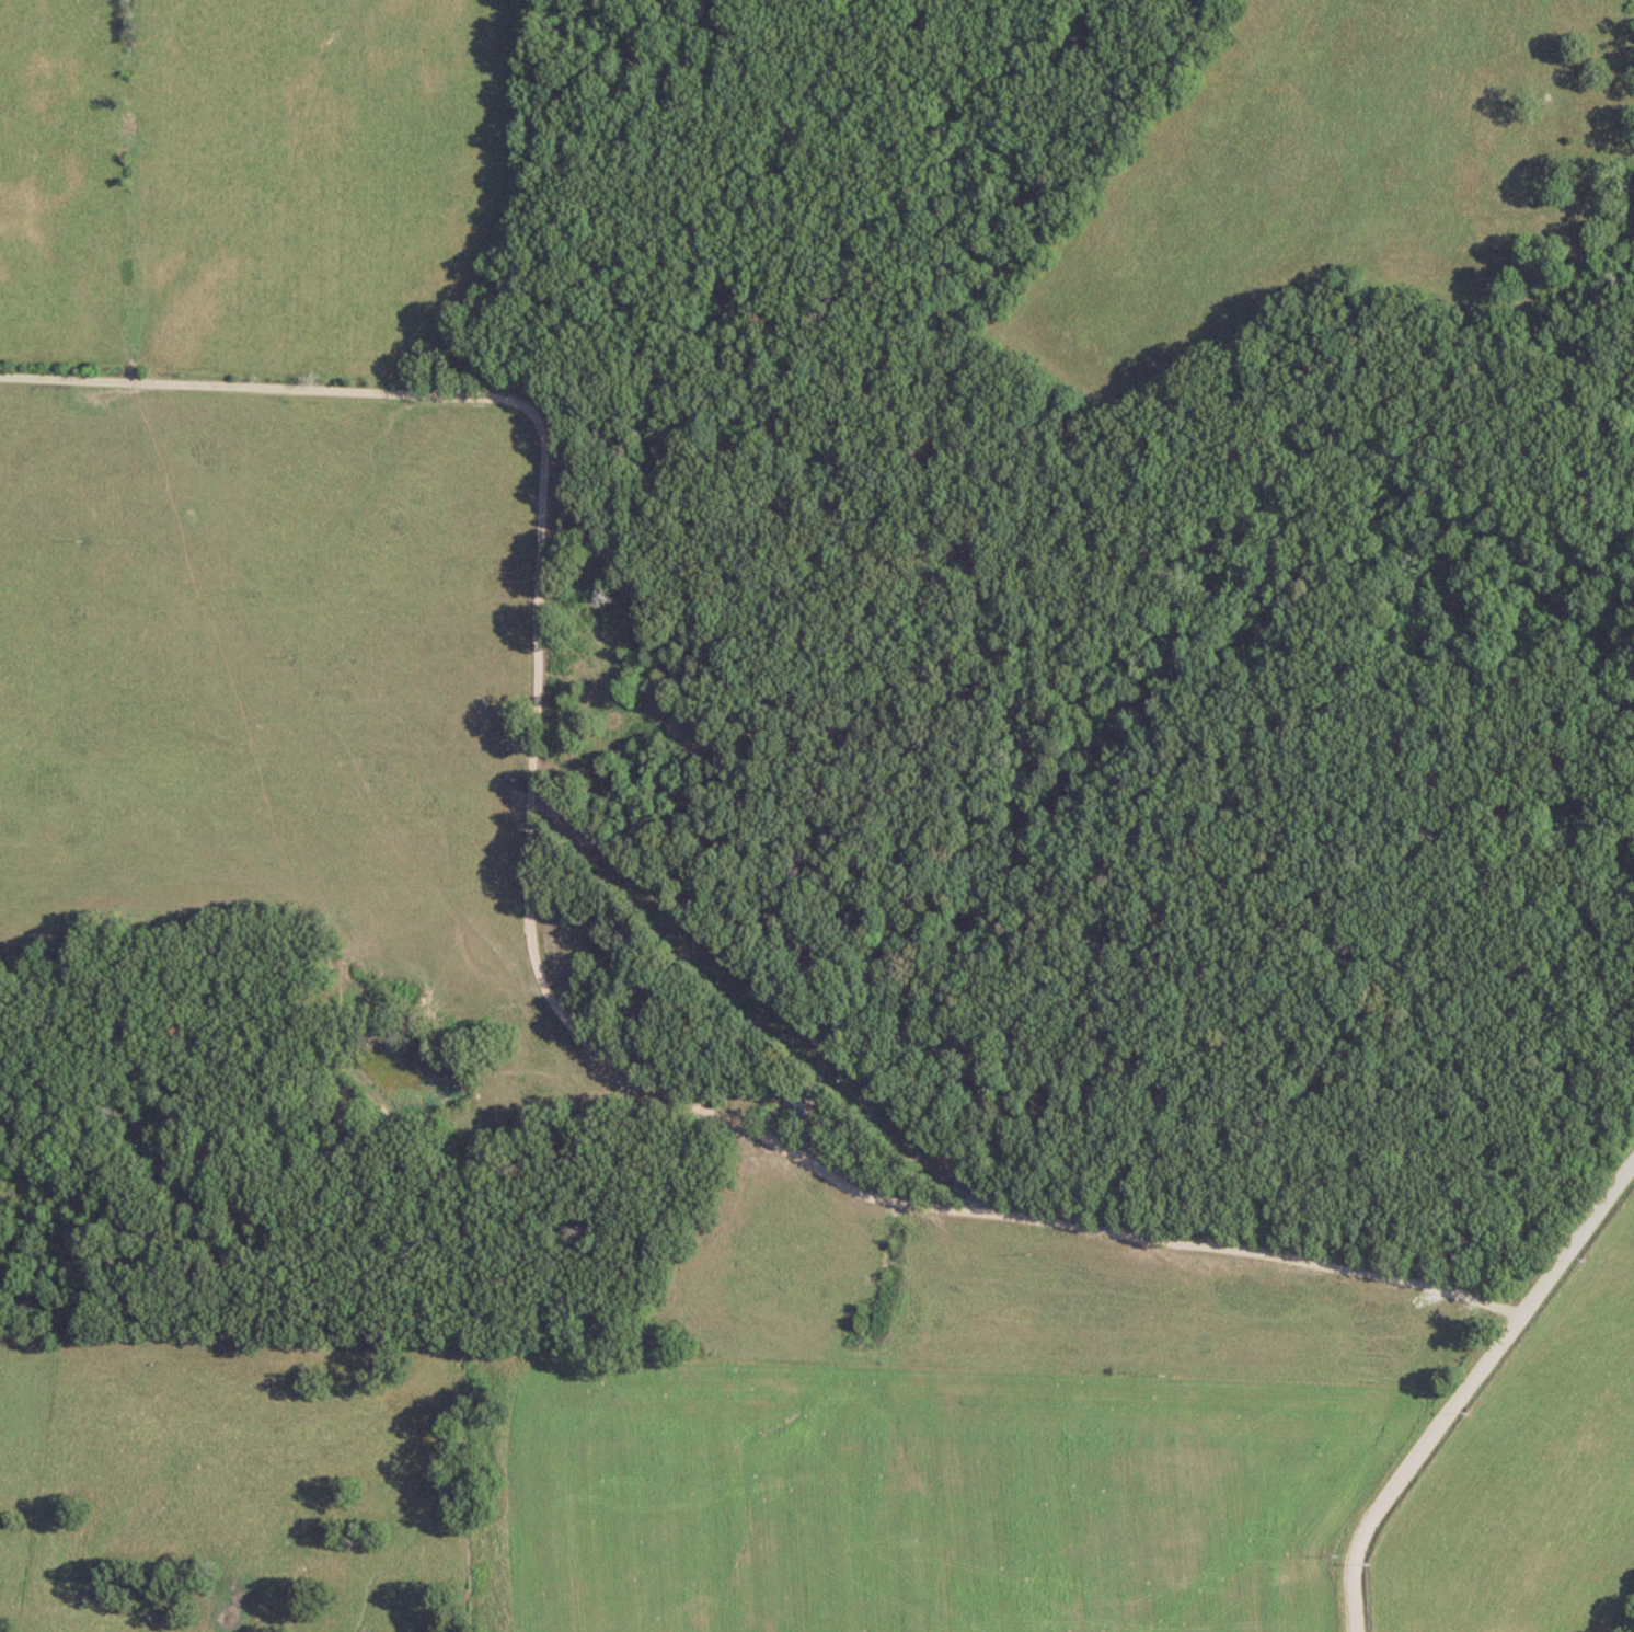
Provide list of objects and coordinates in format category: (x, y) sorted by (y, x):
road: (529, 955)
building: (793, 1105)
road: (617, 1208)
road: (1463, 1382)

